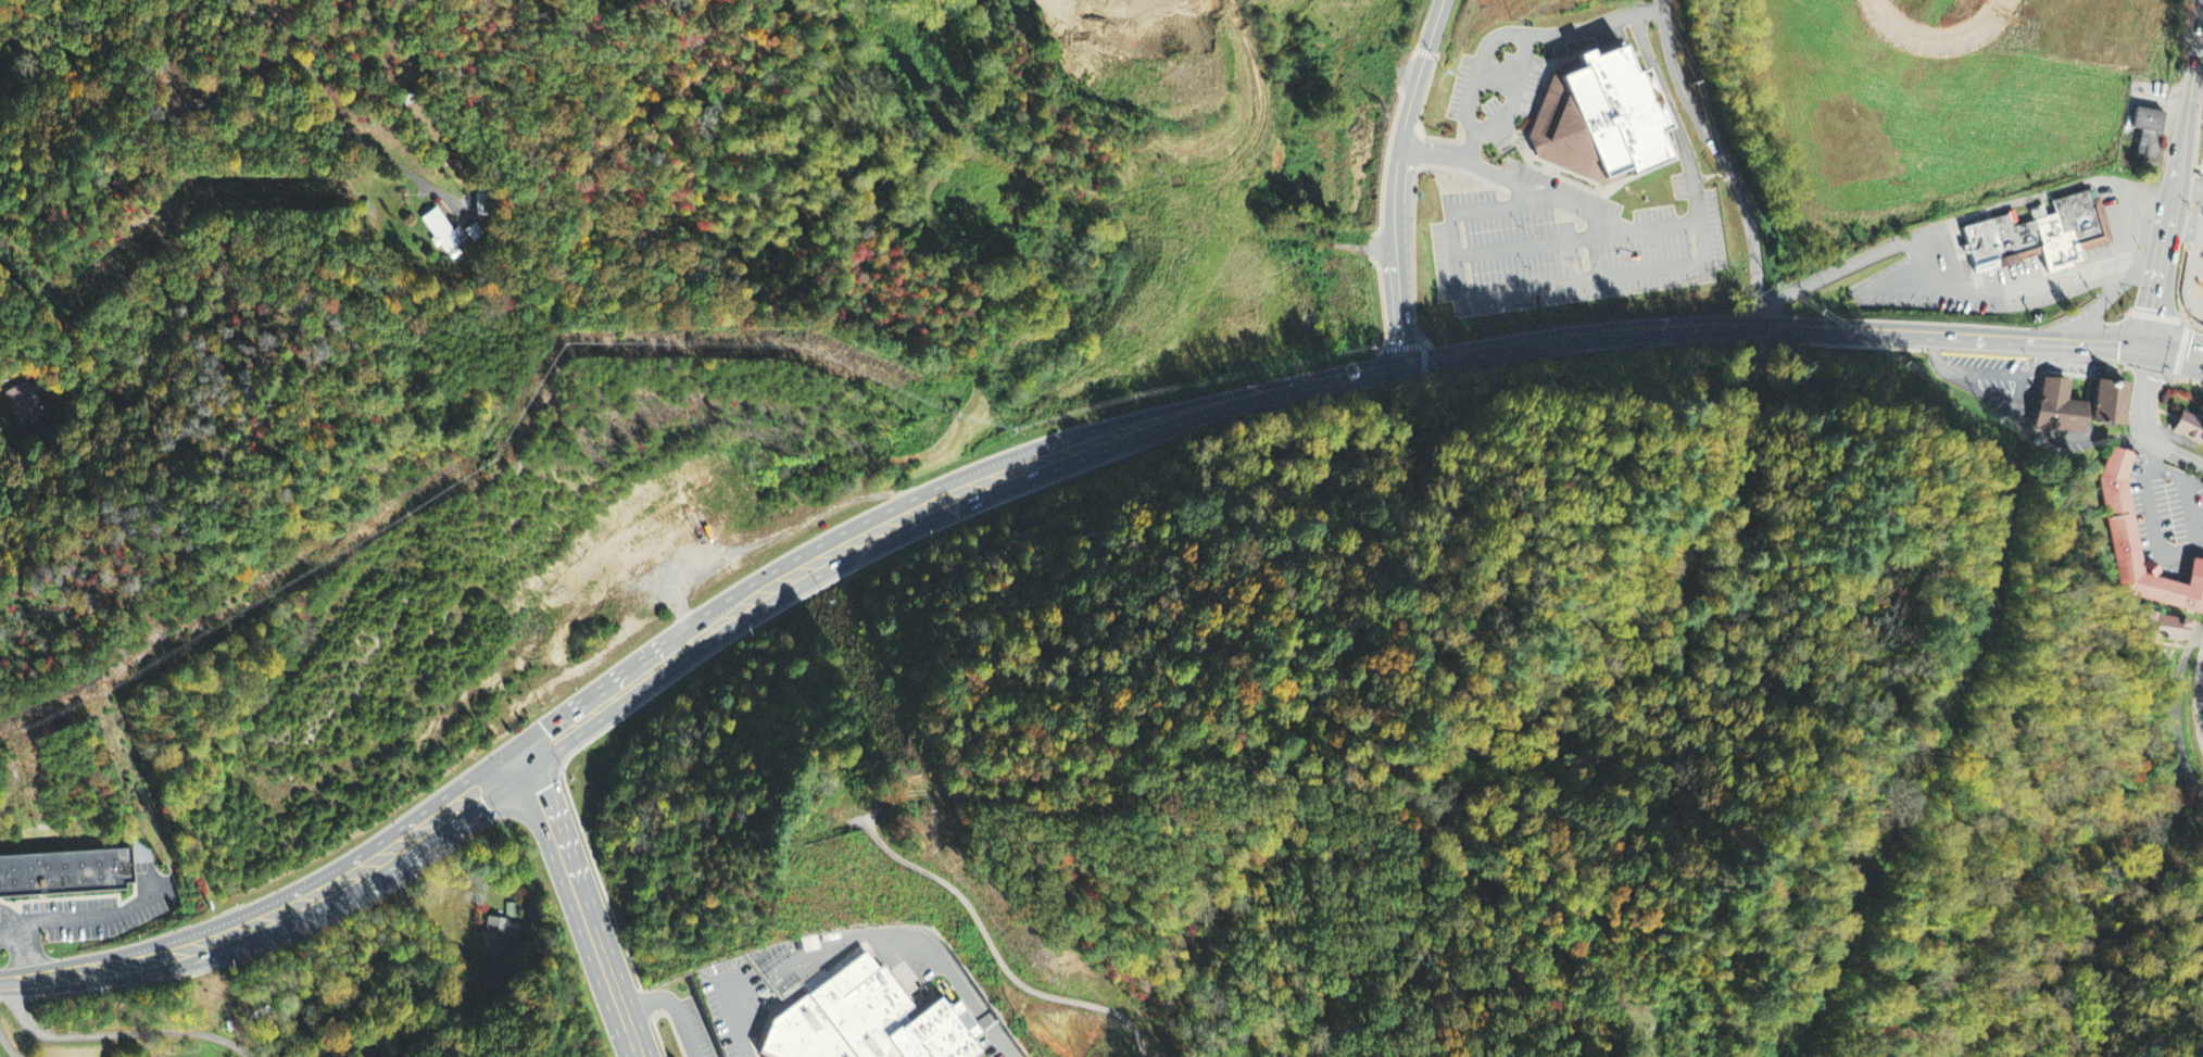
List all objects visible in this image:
road: (1519, 35)
road: (276, 63)
road: (1516, 95)
building: (1598, 118)
road: (2202, 121)
building: (2150, 129)
park: (2201, 131)
road: (1725, 158)
road: (2202, 171)
road: (2199, 172)
road: (1396, 178)
road: (1515, 181)
road: (2190, 186)
road: (2177, 198)
building: (2085, 217)
road: (2189, 218)
road: (2189, 223)
building: (440, 232)
road: (1577, 237)
building: (2055, 238)
building: (2016, 240)
road: (2198, 241)
building: (1982, 244)
road: (1620, 276)
parking lot: (2200, 278)
road: (2189, 287)
road: (1570, 334)
traffic signals: (2152, 345)
road: (2177, 350)
road: (2183, 350)
road: (0, 372)
road: (2165, 386)
building: (2106, 401)
building: (2056, 403)
building: (28, 406)
road: (2143, 420)
building: (2189, 423)
road: (2181, 487)
building: (2123, 519)
road: (2160, 524)
road: (757, 597)
building: (2163, 628)
traffic signals: (527, 752)
road: (931, 795)
building: (64, 870)
road: (584, 904)
road: (287, 906)
building: (514, 908)
building: (502, 931)
road: (914, 938)
road: (7, 981)
road: (679, 1005)
building: (262, 1009)
building: (872, 1020)
road: (740, 1022)
road: (118, 1032)
road: (1008, 1042)
road: (8, 1049)
road: (342, 1052)

